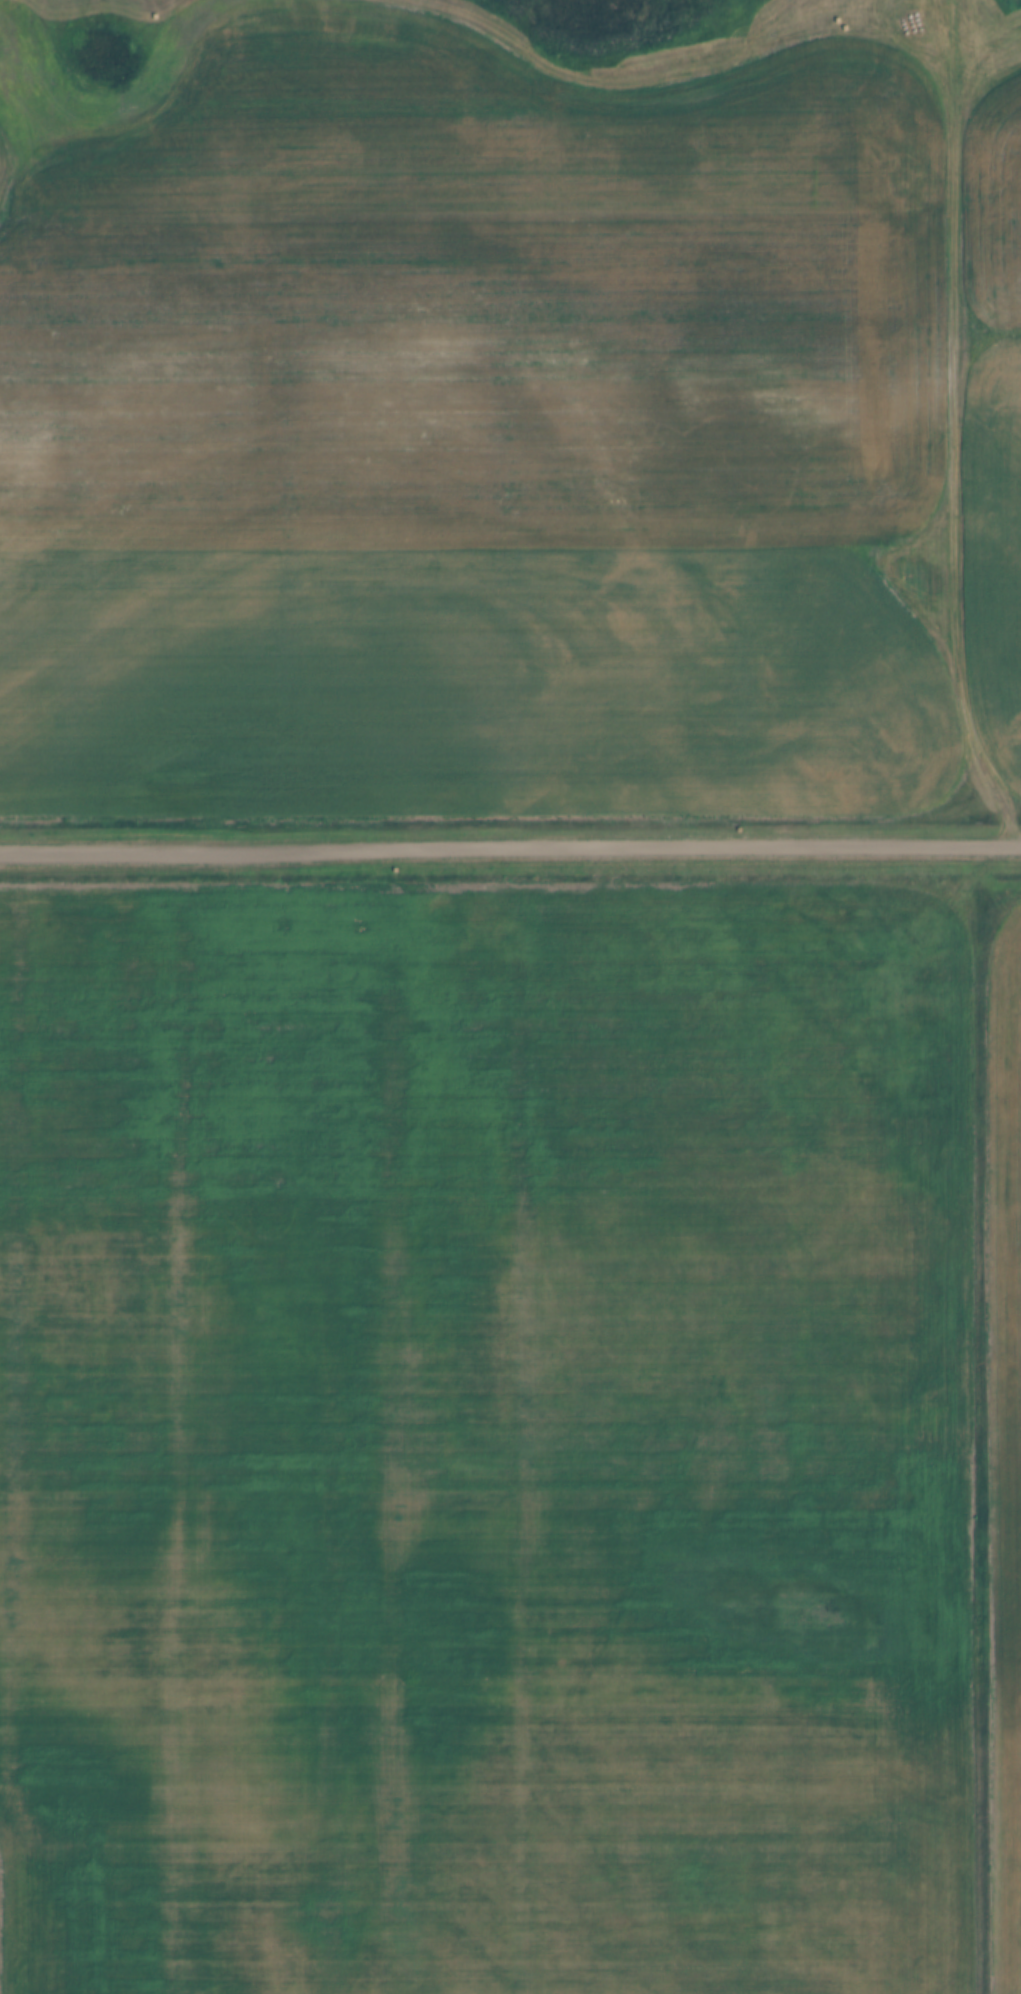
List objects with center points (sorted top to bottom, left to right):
road: (953, 432)
crop: (458, 672)
road: (510, 850)

